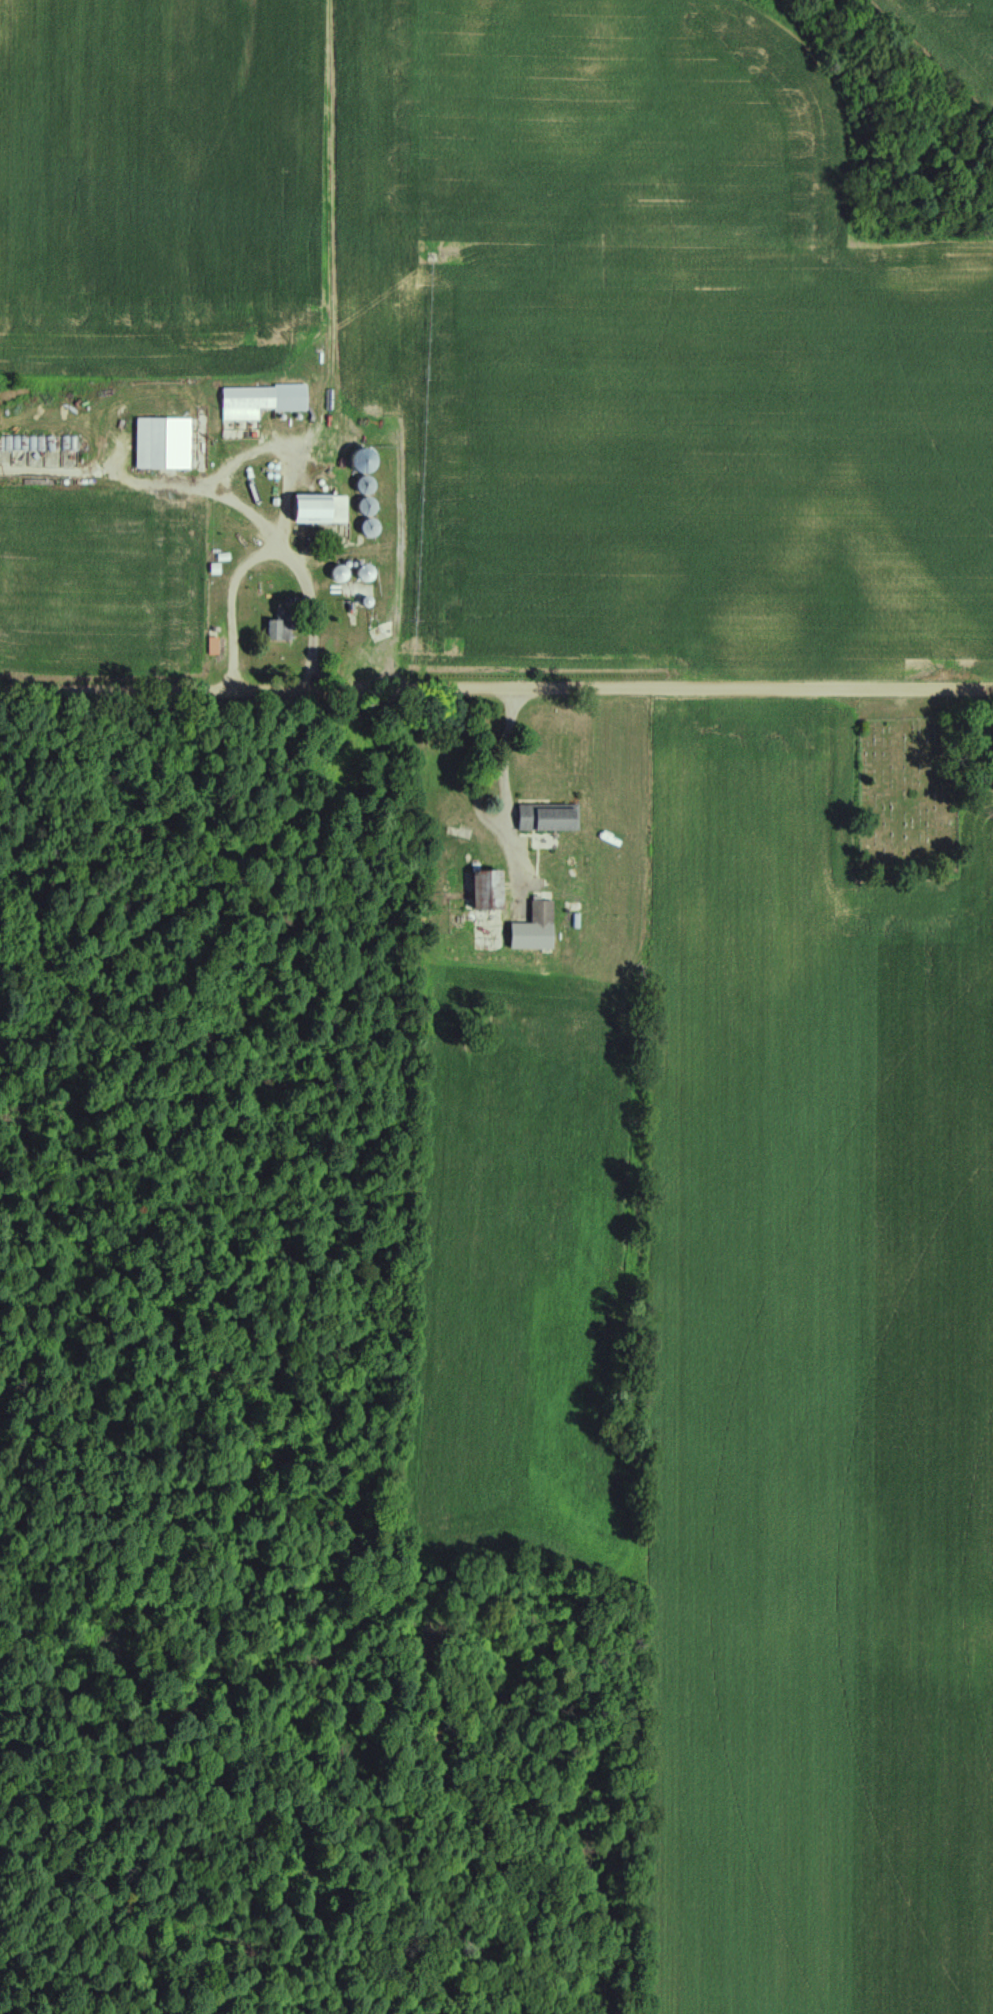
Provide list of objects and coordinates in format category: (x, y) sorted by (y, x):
building: (265, 400)
building: (166, 443)
building: (323, 508)
road: (266, 551)
building: (284, 626)
building: (214, 644)
road: (496, 689)
road: (507, 753)
park: (910, 794)
building: (547, 817)
building: (484, 889)
building: (541, 914)

